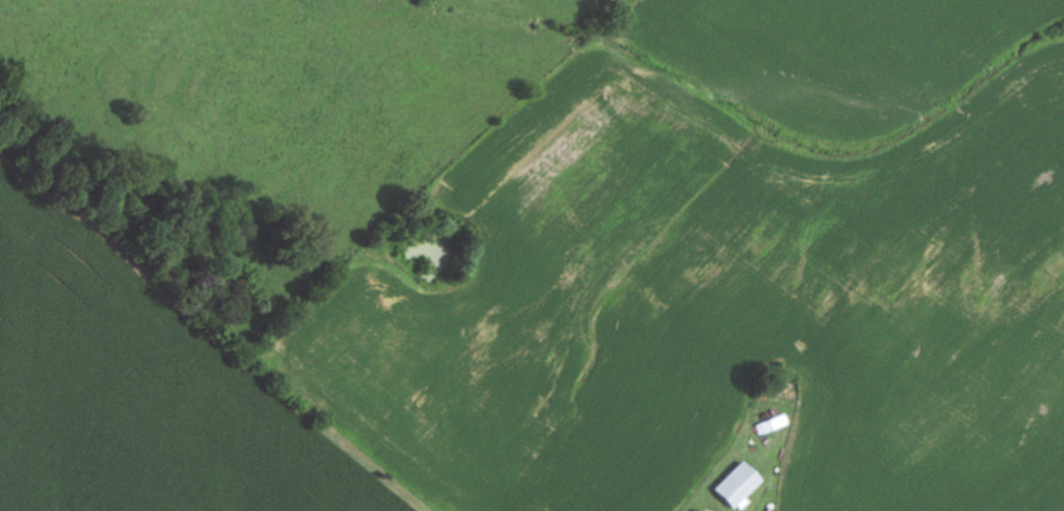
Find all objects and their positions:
building: (742, 486)
building: (701, 510)

